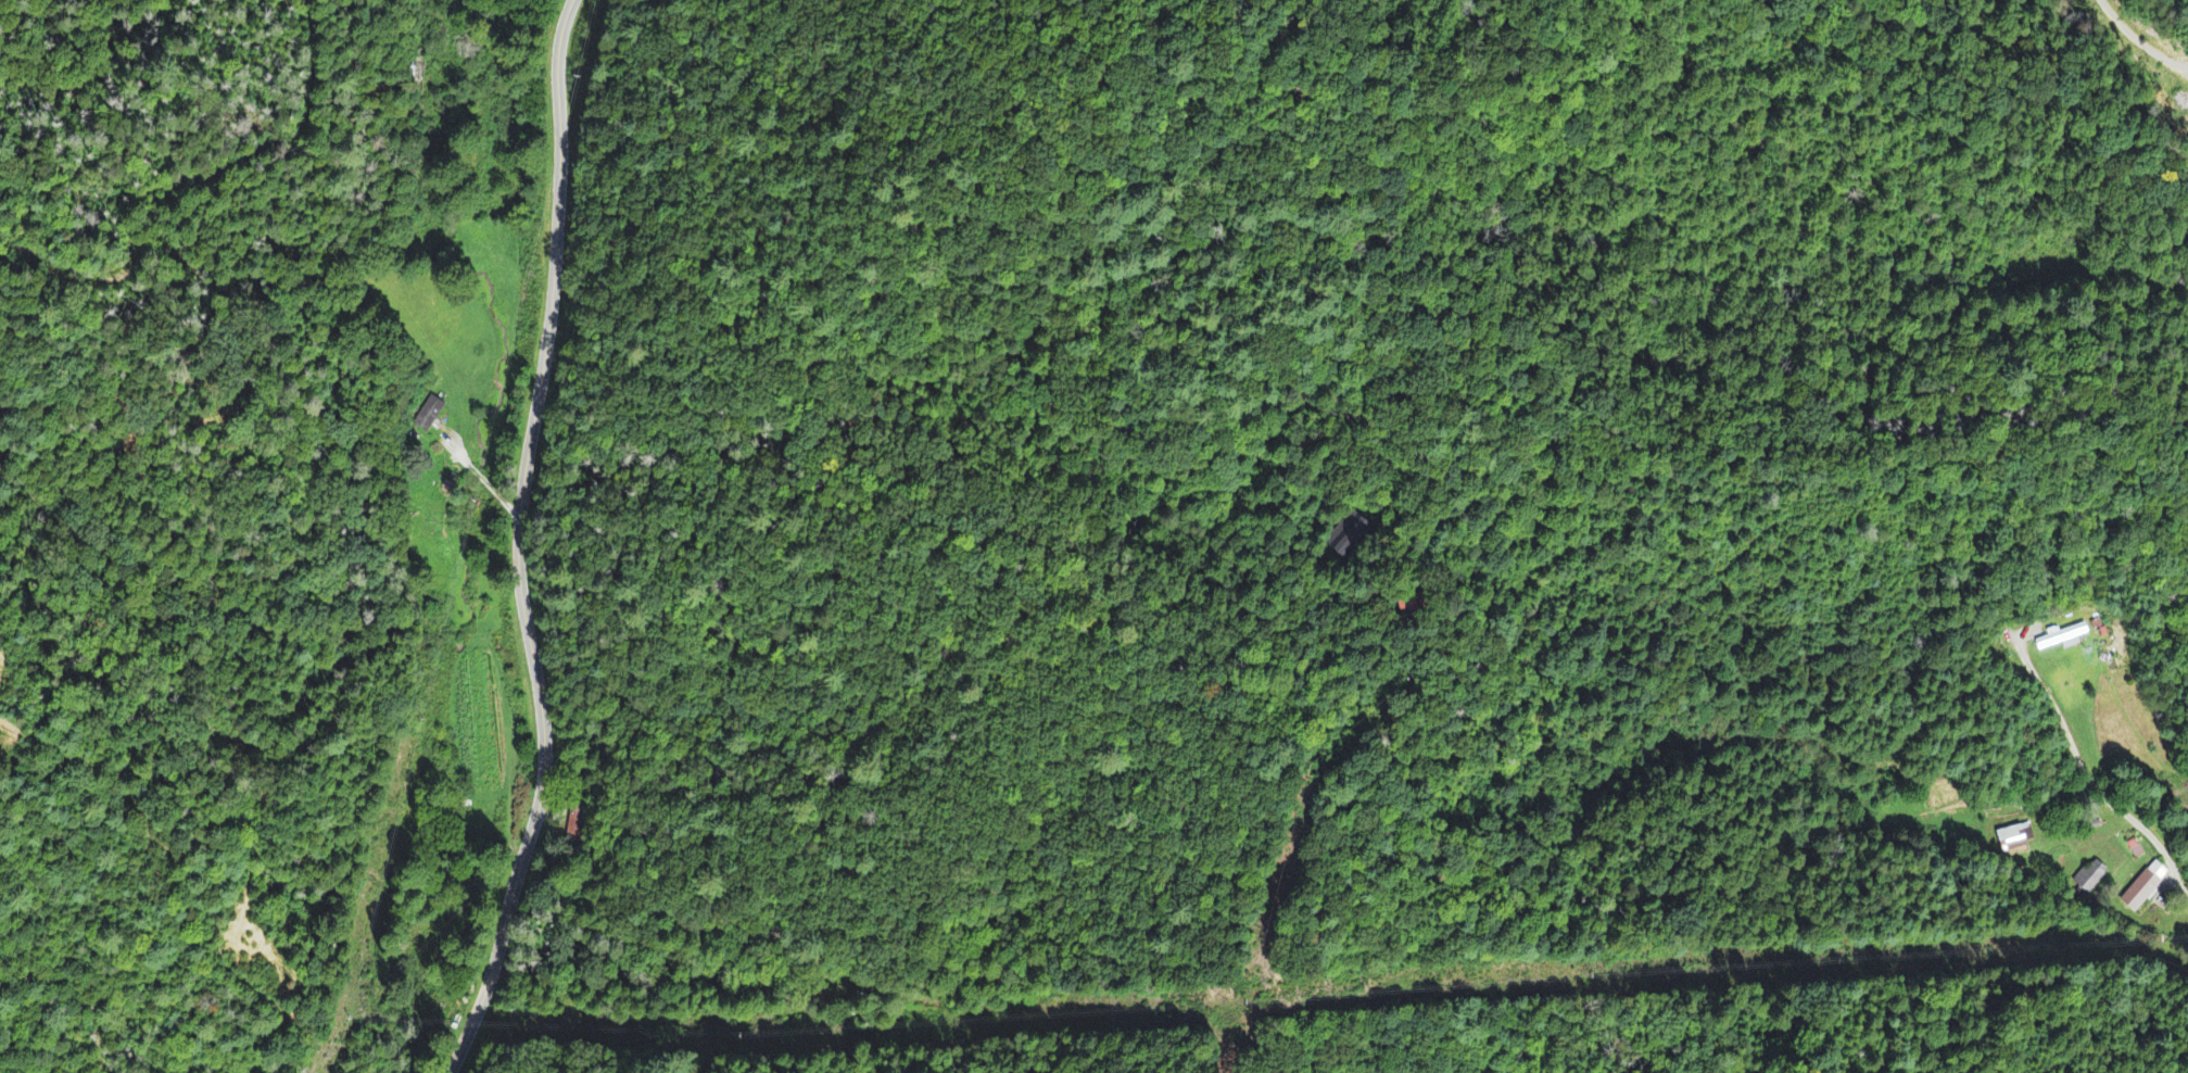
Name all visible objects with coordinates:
building: (430, 416)
road: (514, 545)
building: (2064, 640)
road: (2086, 780)
building: (2014, 838)
building: (2090, 879)
building: (2146, 888)

